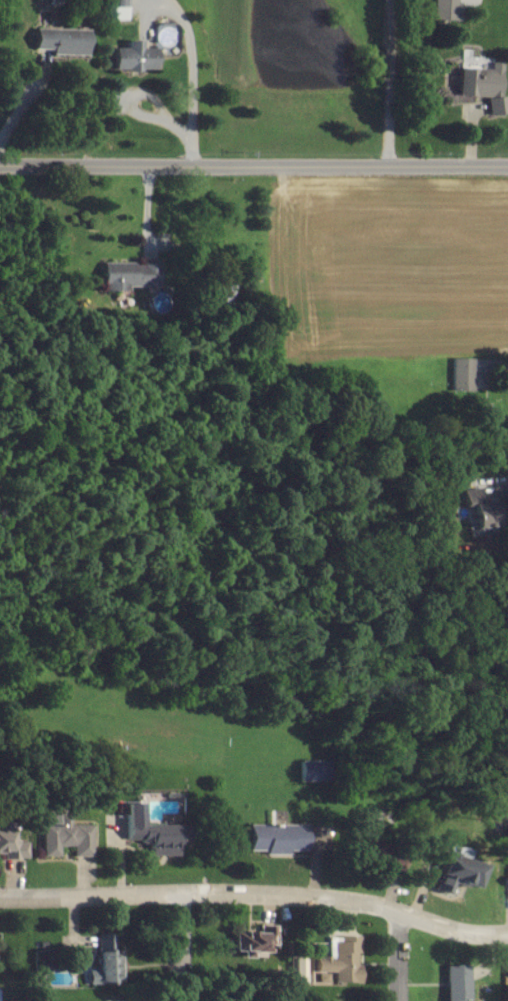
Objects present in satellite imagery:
building: (118, 9)
building: (446, 9)
building: (62, 40)
building: (134, 57)
road: (189, 77)
road: (387, 83)
building: (485, 85)
road: (254, 166)
building: (131, 275)
building: (225, 293)
building: (464, 374)
building: (481, 511)
building: (313, 770)
building: (151, 832)
building: (67, 835)
building: (277, 838)
building: (13, 845)
building: (385, 863)
building: (457, 872)
road: (199, 891)
road: (451, 928)
building: (256, 939)
road: (182, 946)
road: (398, 956)
building: (342, 959)
building: (109, 960)
building: (455, 983)

